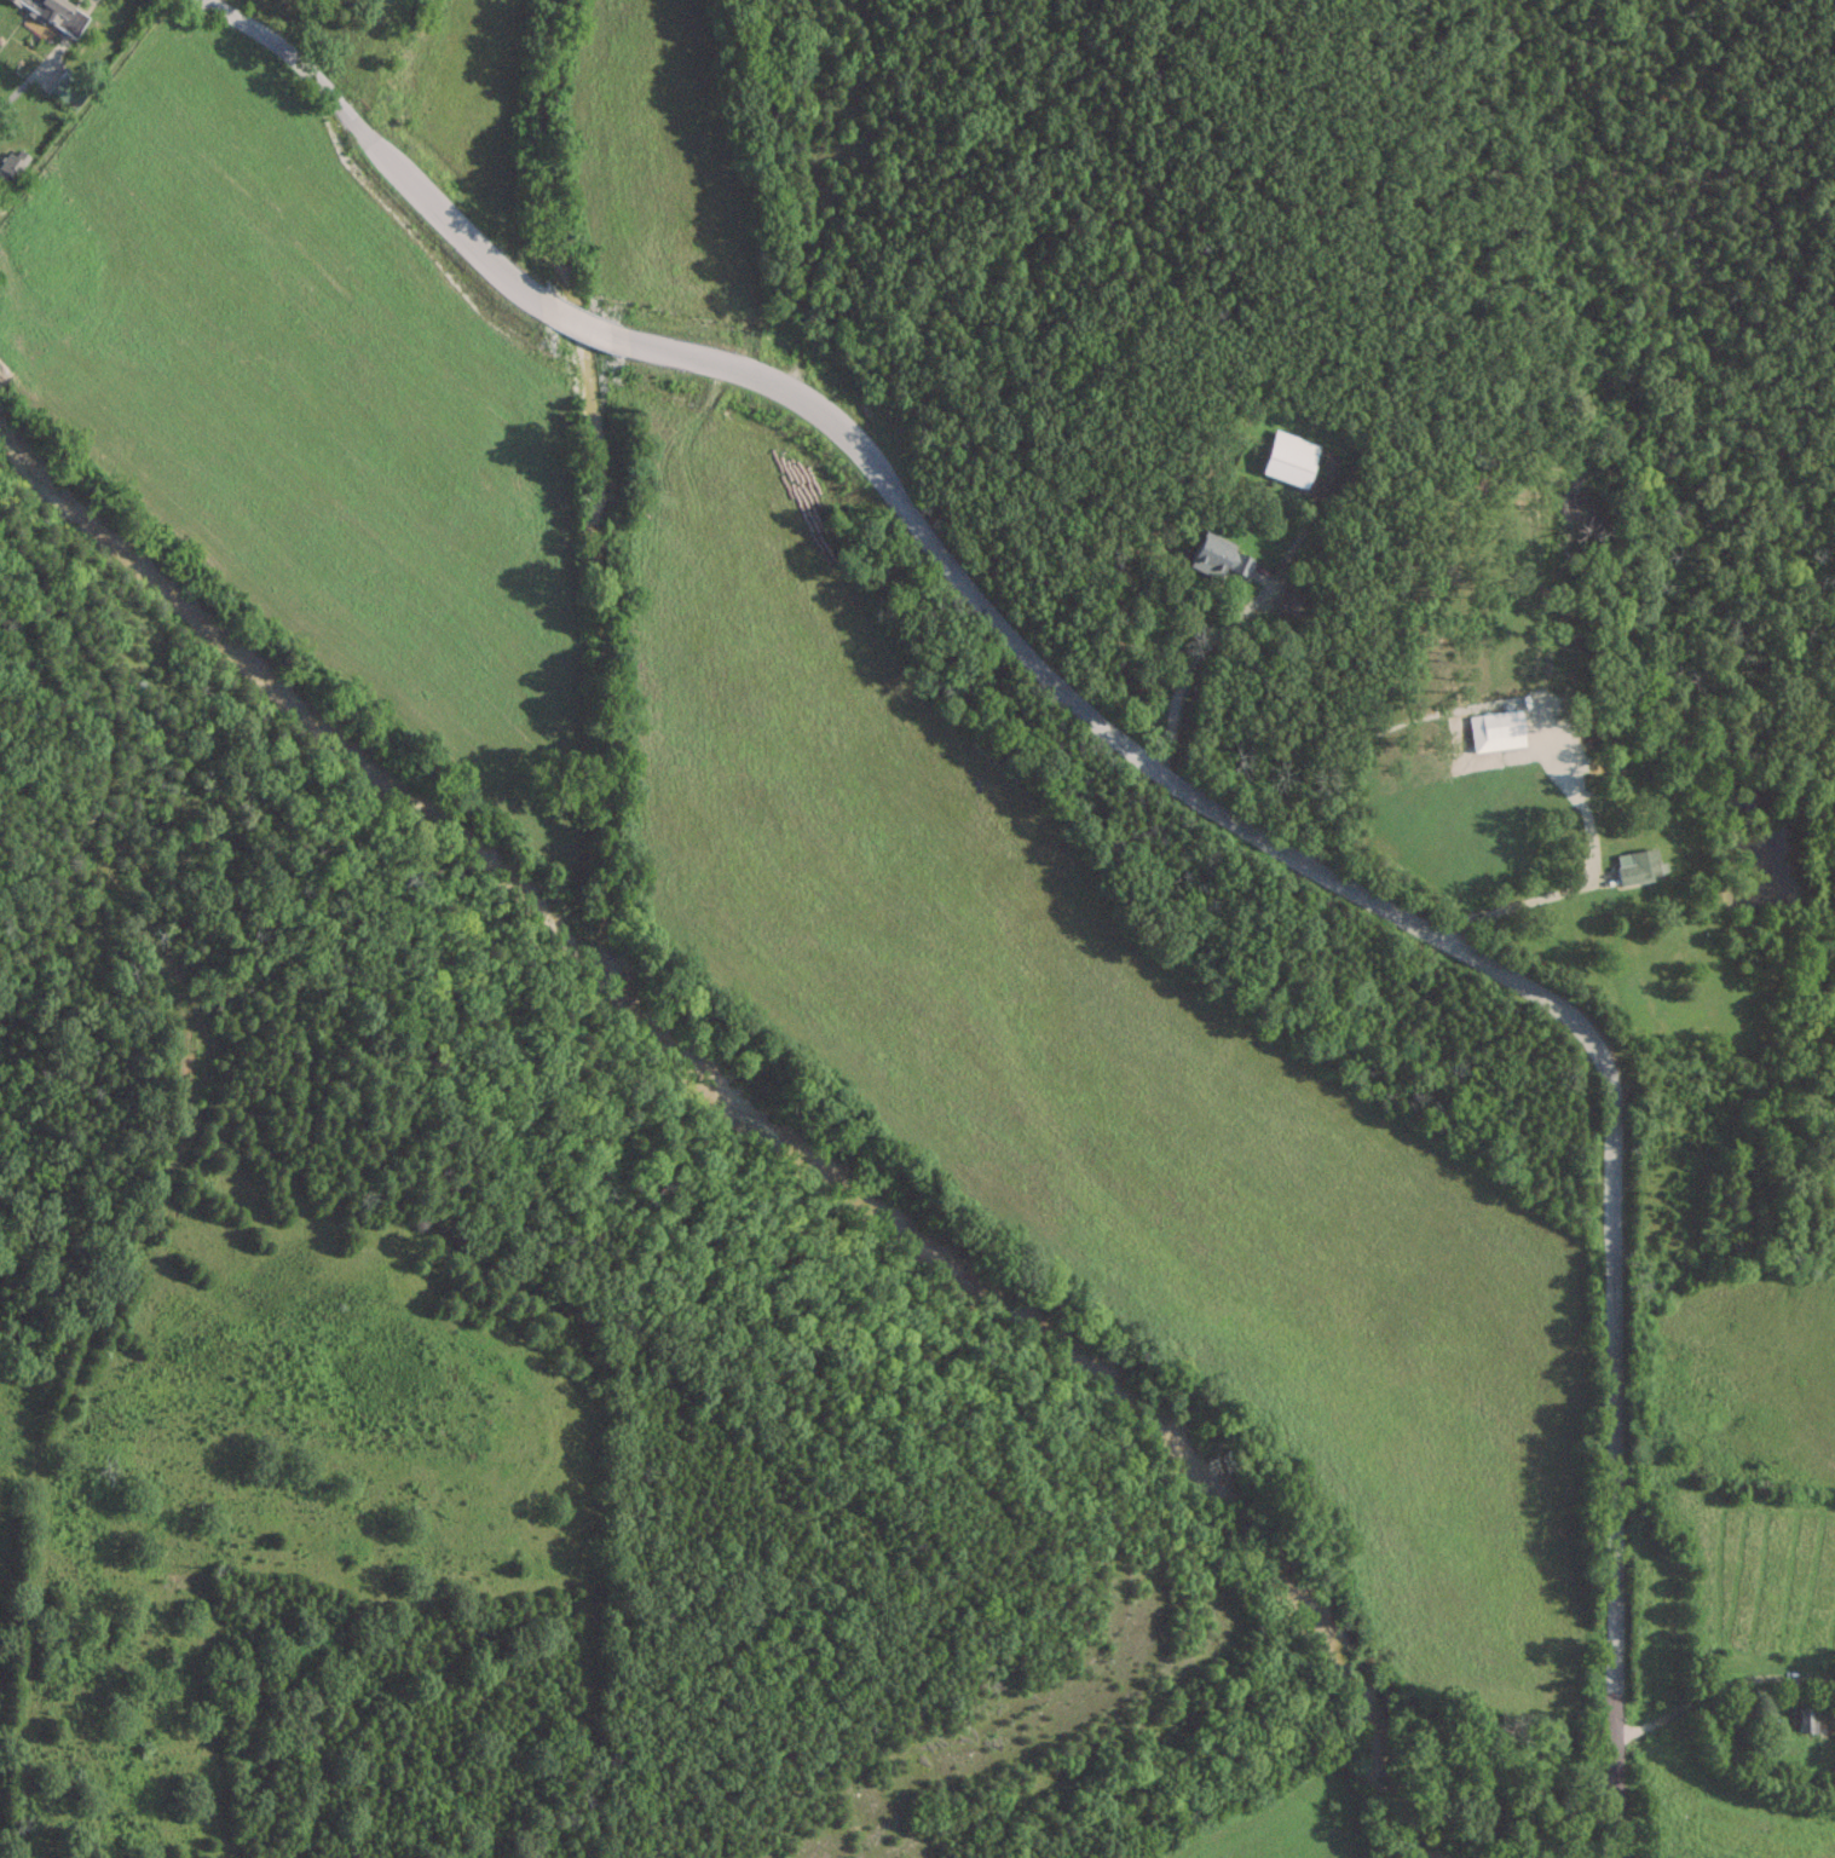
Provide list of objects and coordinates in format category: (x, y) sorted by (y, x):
building: (54, 12)
road: (29, 76)
building: (65, 92)
road: (81, 105)
building: (10, 166)
building: (1288, 458)
building: (1217, 558)
road: (1245, 608)
building: (1500, 723)
road: (1189, 795)
building: (1637, 867)
road: (1586, 884)
road: (1720, 1687)
building: (1805, 1720)

